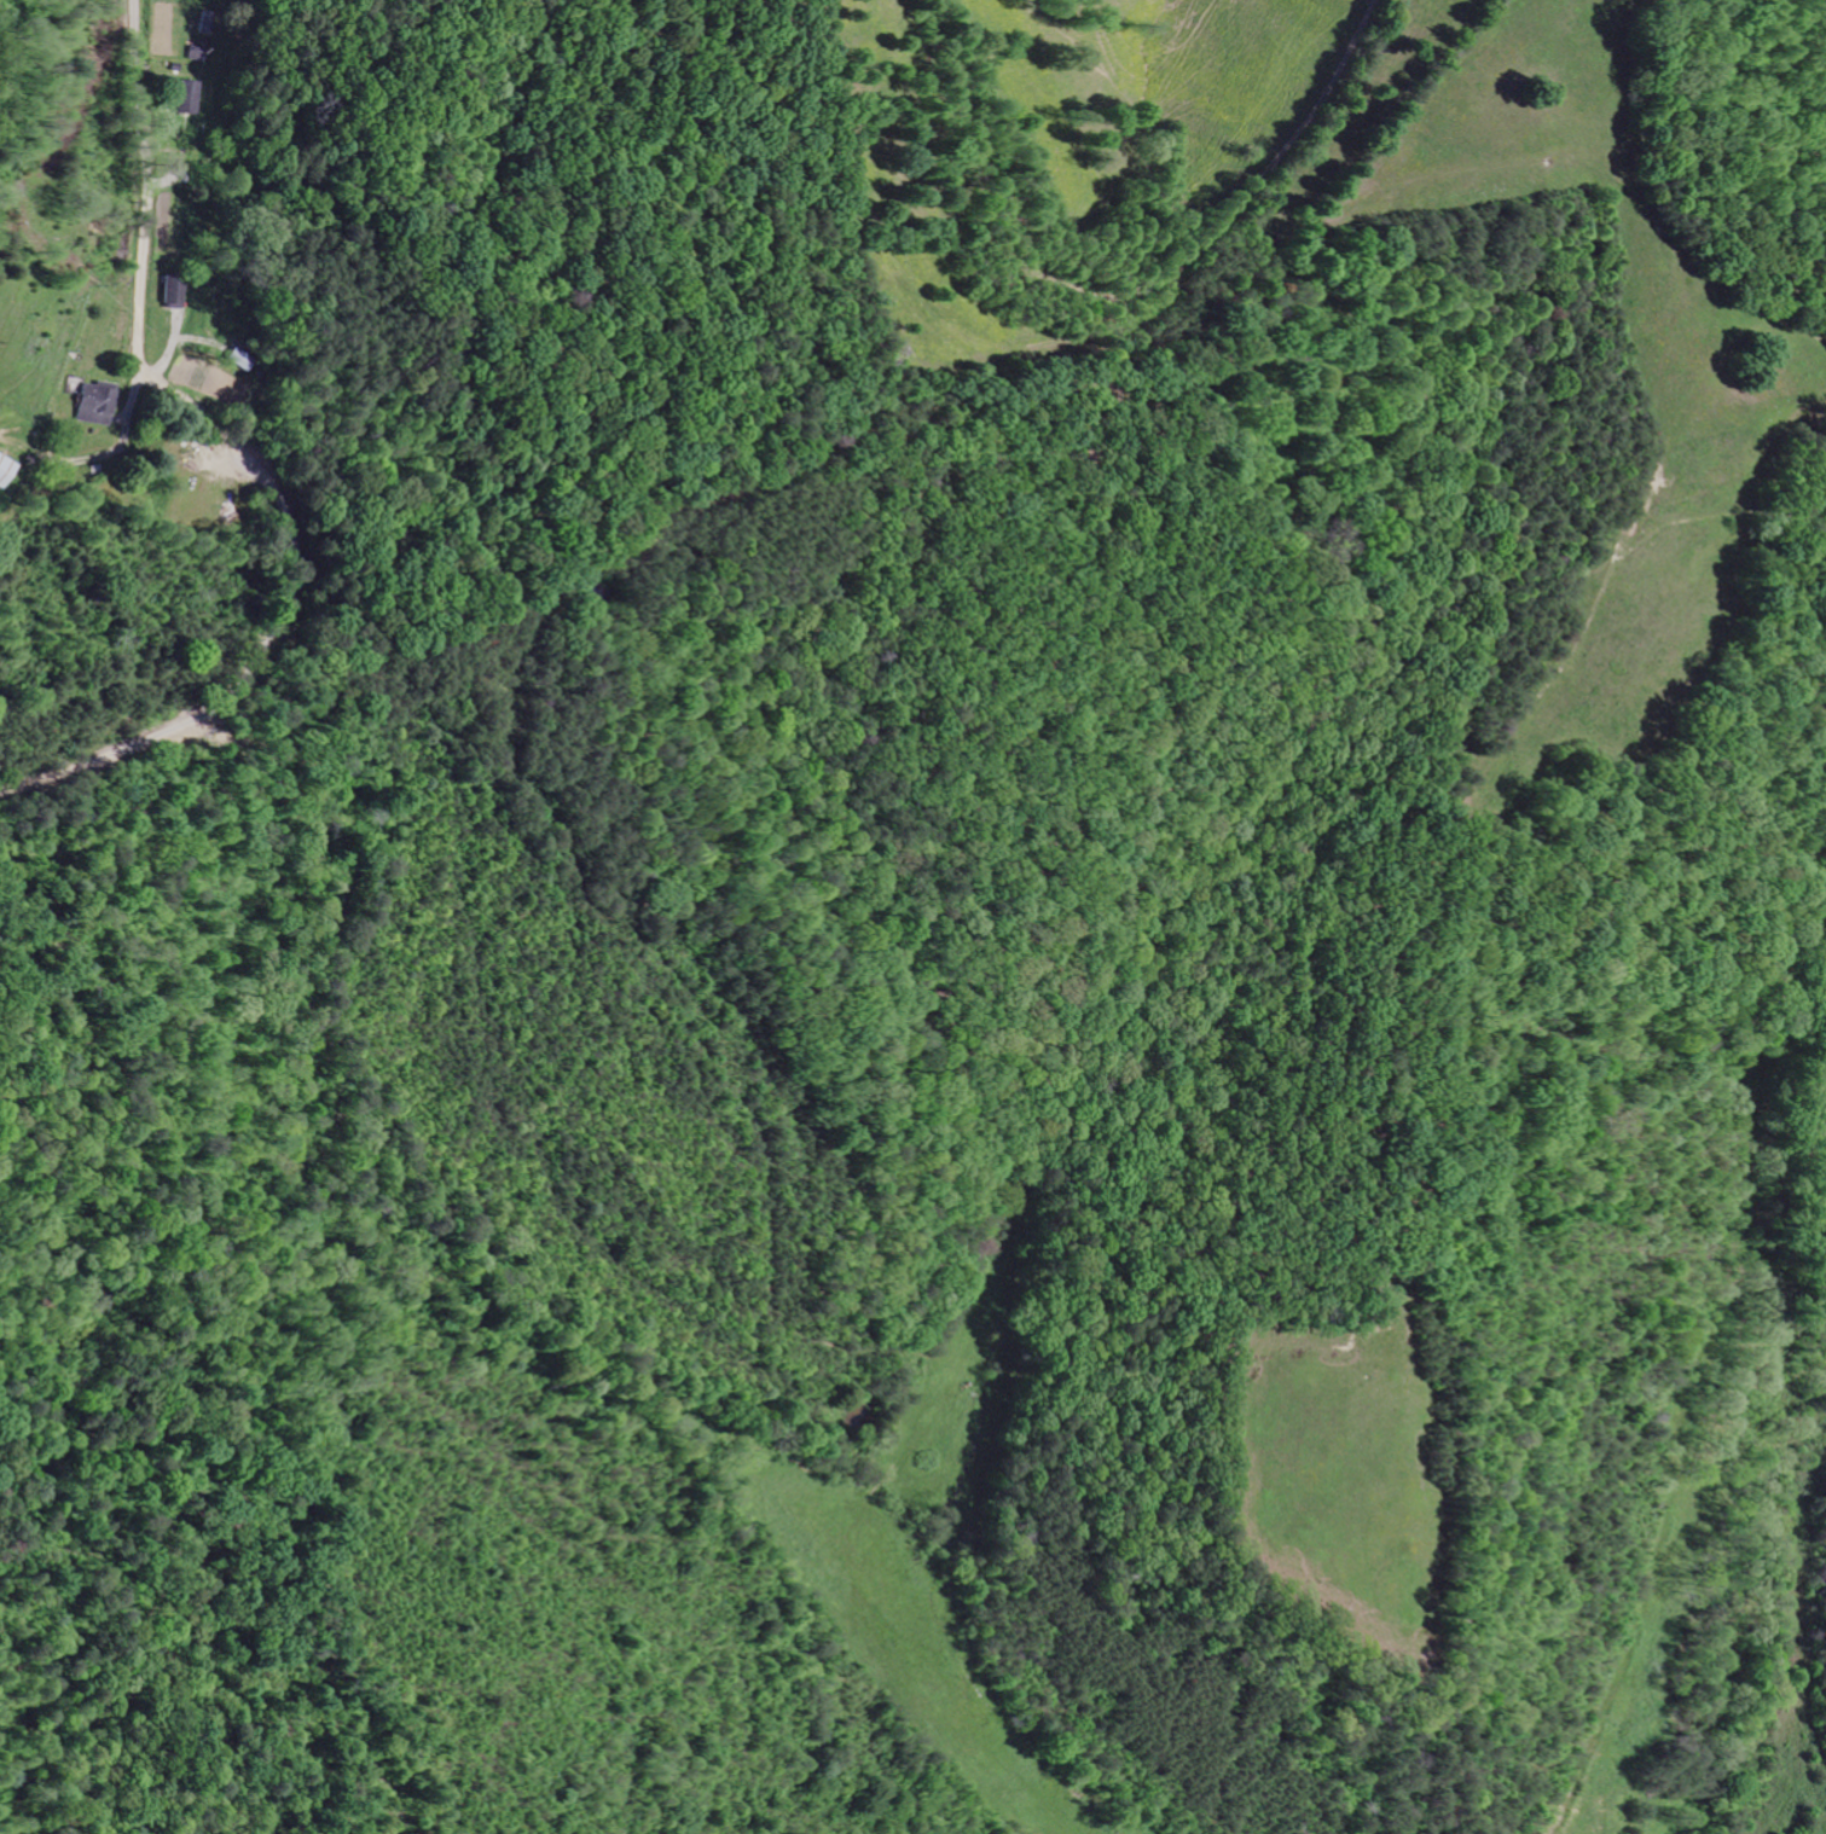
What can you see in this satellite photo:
road: (135, 77)
building: (193, 97)
road: (145, 268)
building: (98, 404)
building: (8, 471)

